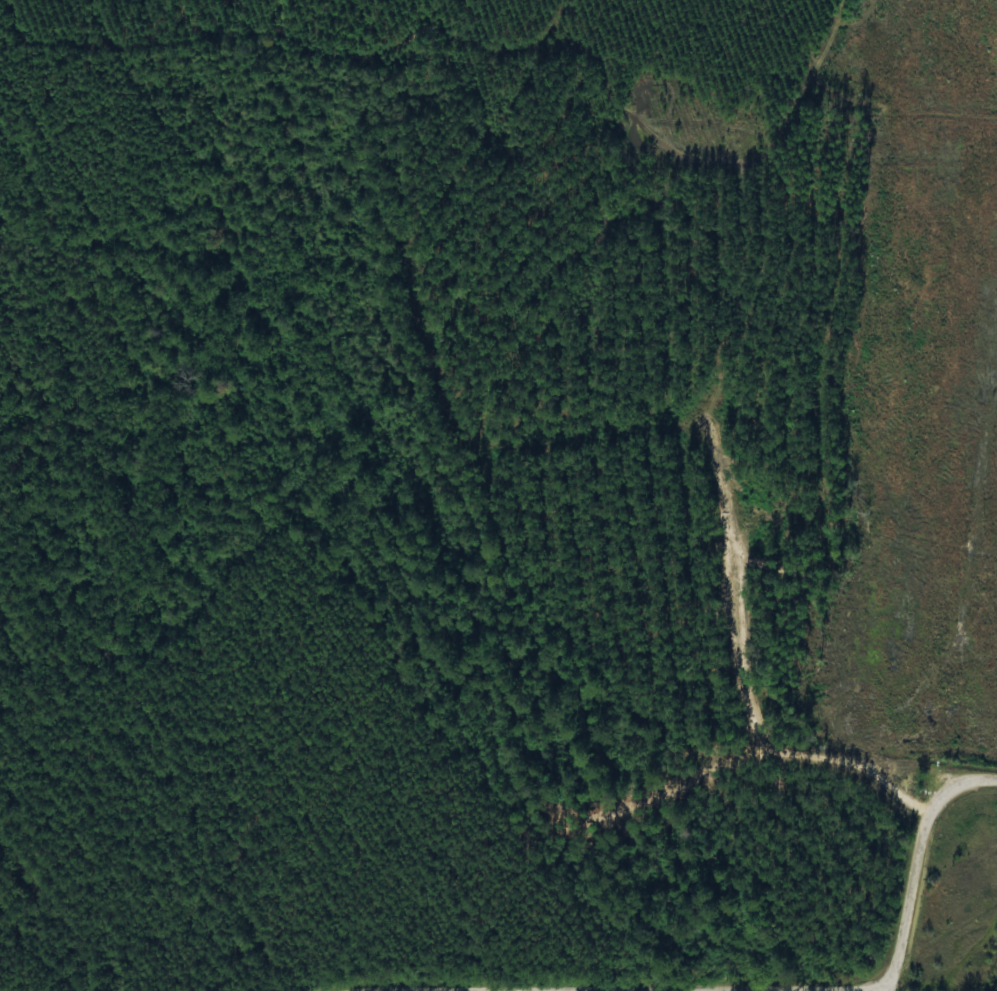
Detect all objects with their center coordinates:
road: (918, 864)

